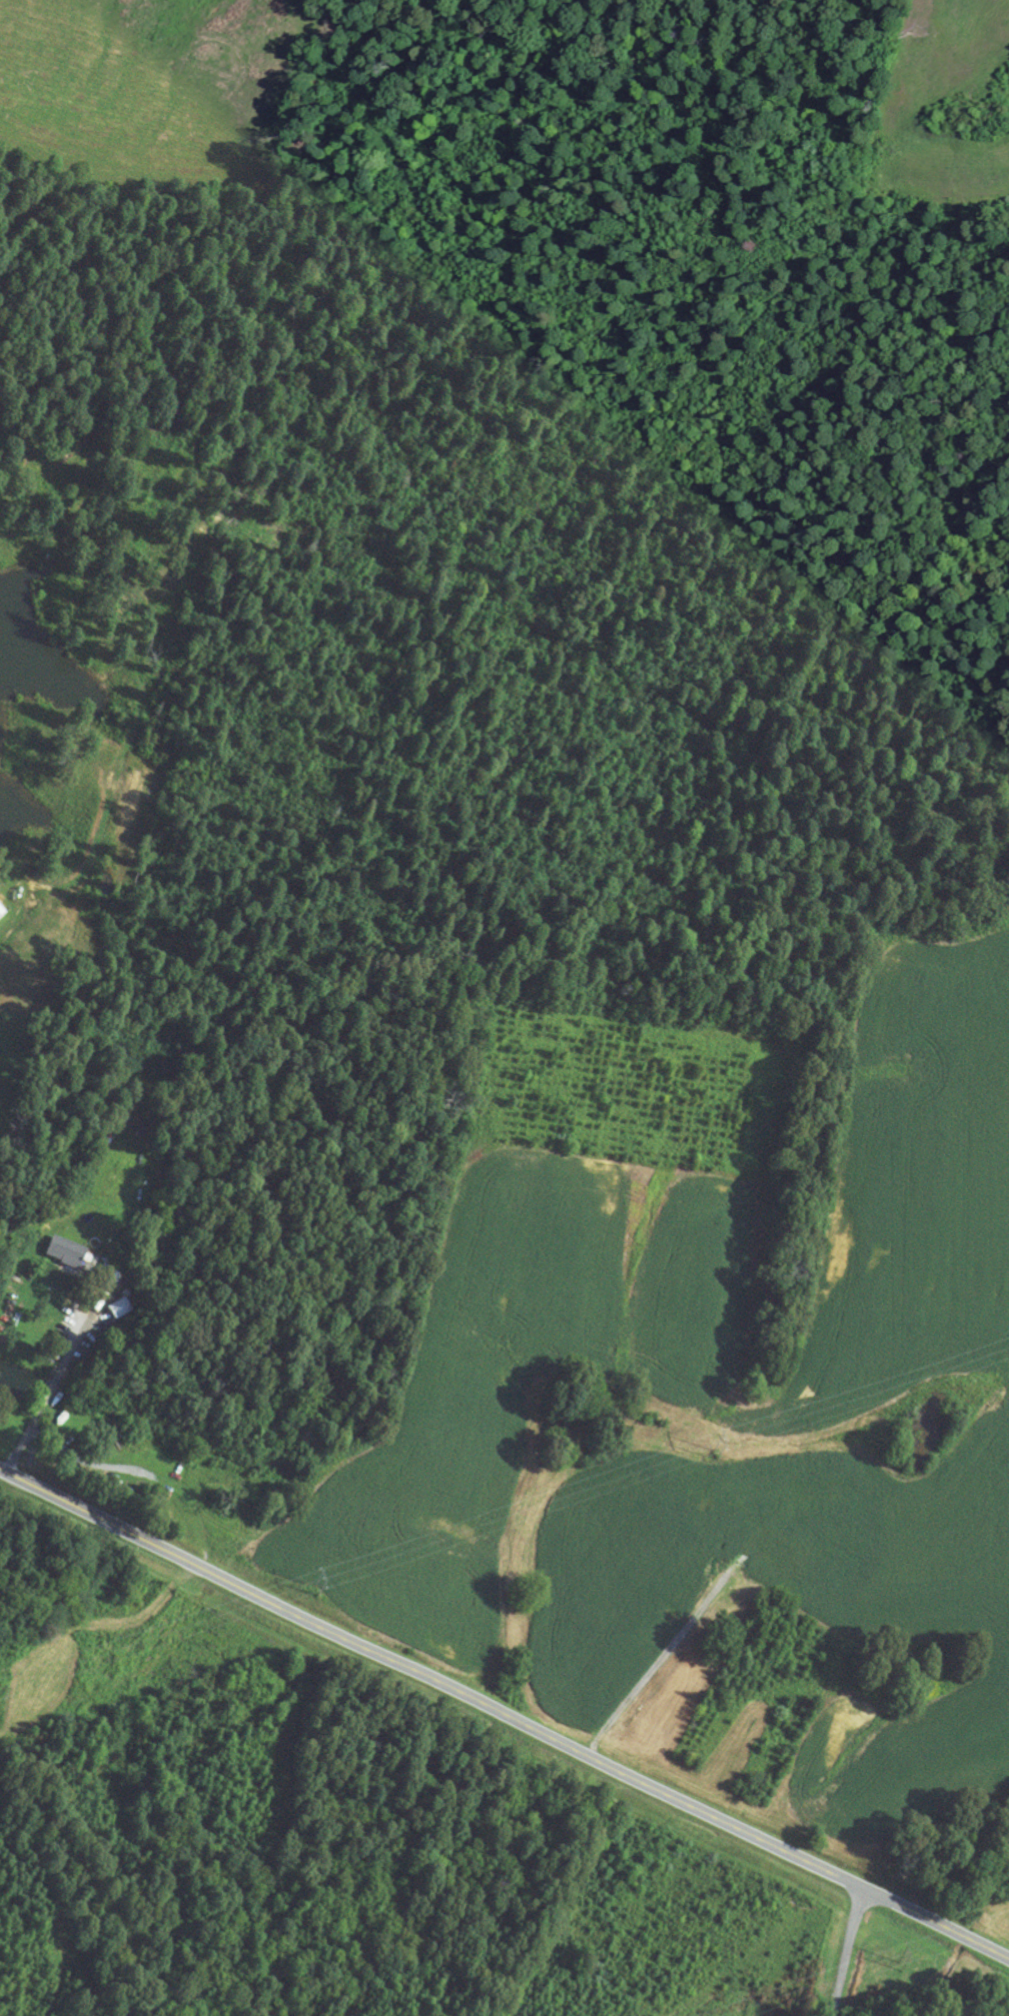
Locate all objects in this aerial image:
building: (66, 1255)
road: (503, 1717)
road: (844, 1952)

